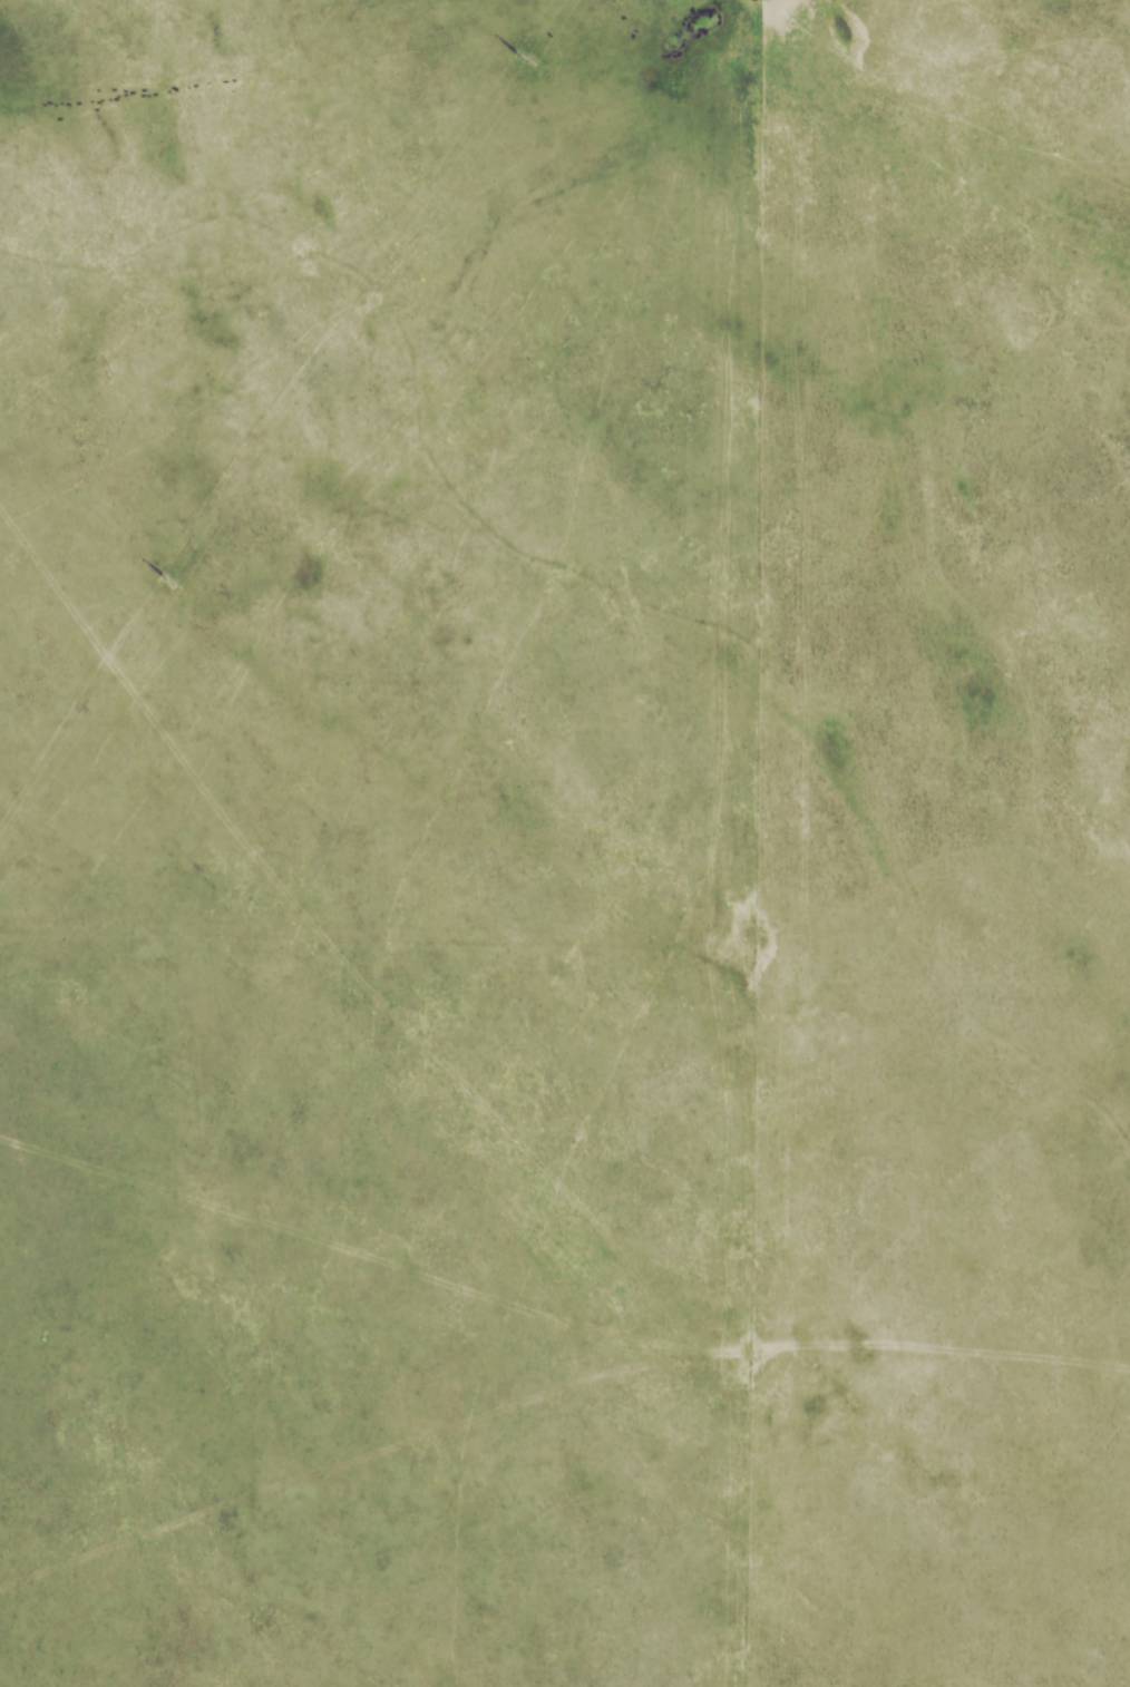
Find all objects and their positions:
power tower: (522, 58)
power tower: (168, 581)

